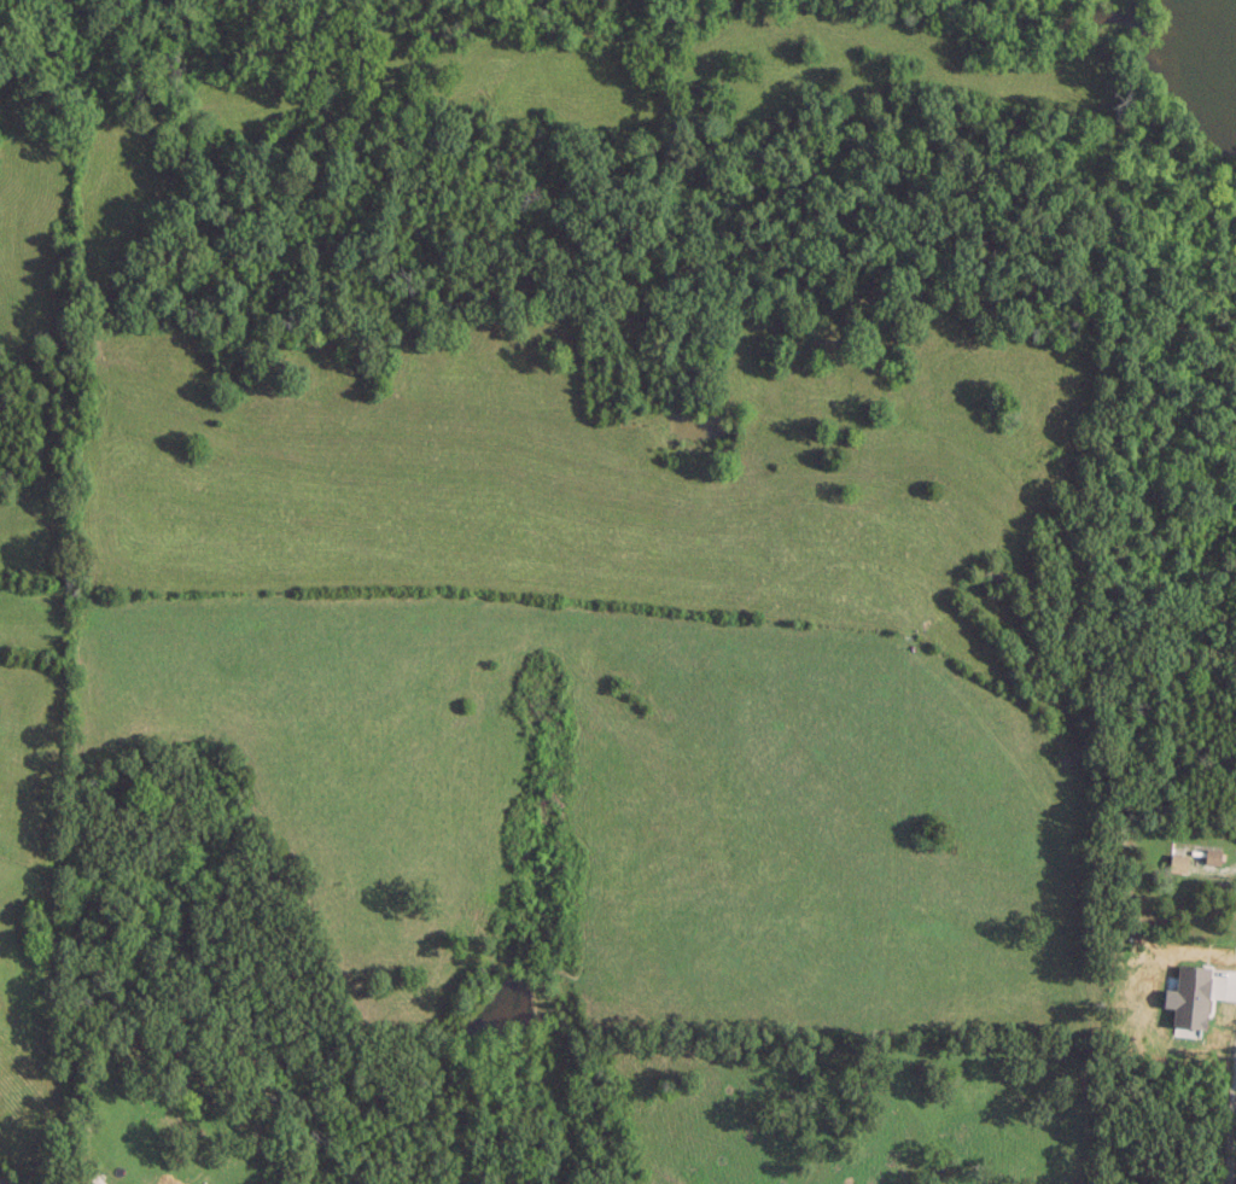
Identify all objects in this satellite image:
building: (1212, 855)
road: (1230, 1130)

